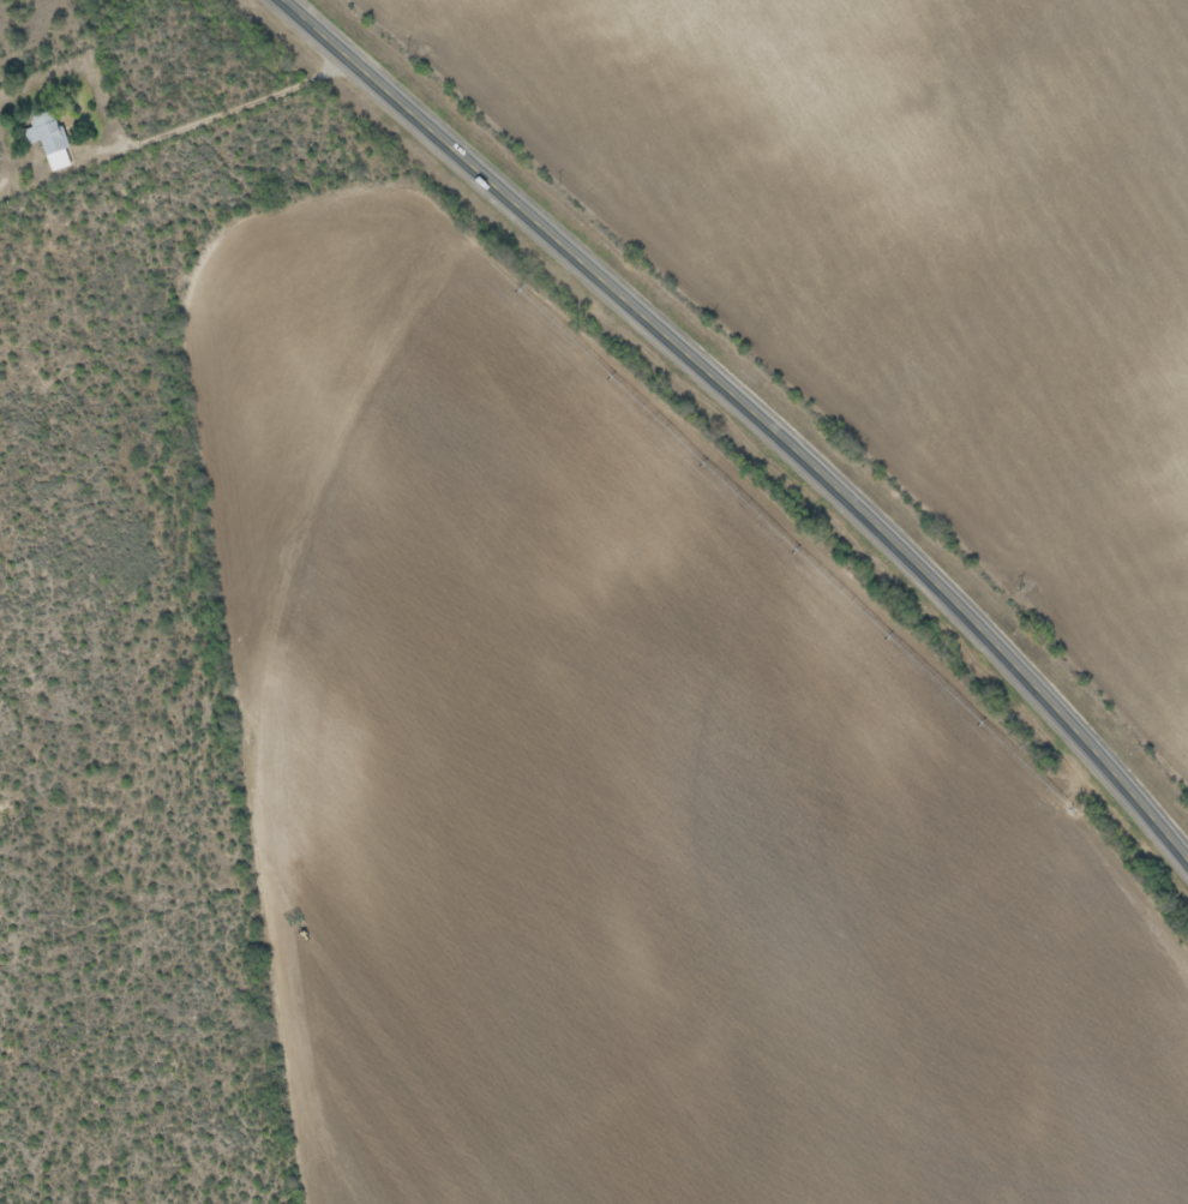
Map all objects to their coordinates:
building: (49, 142)
railway: (794, 376)
road: (755, 414)

